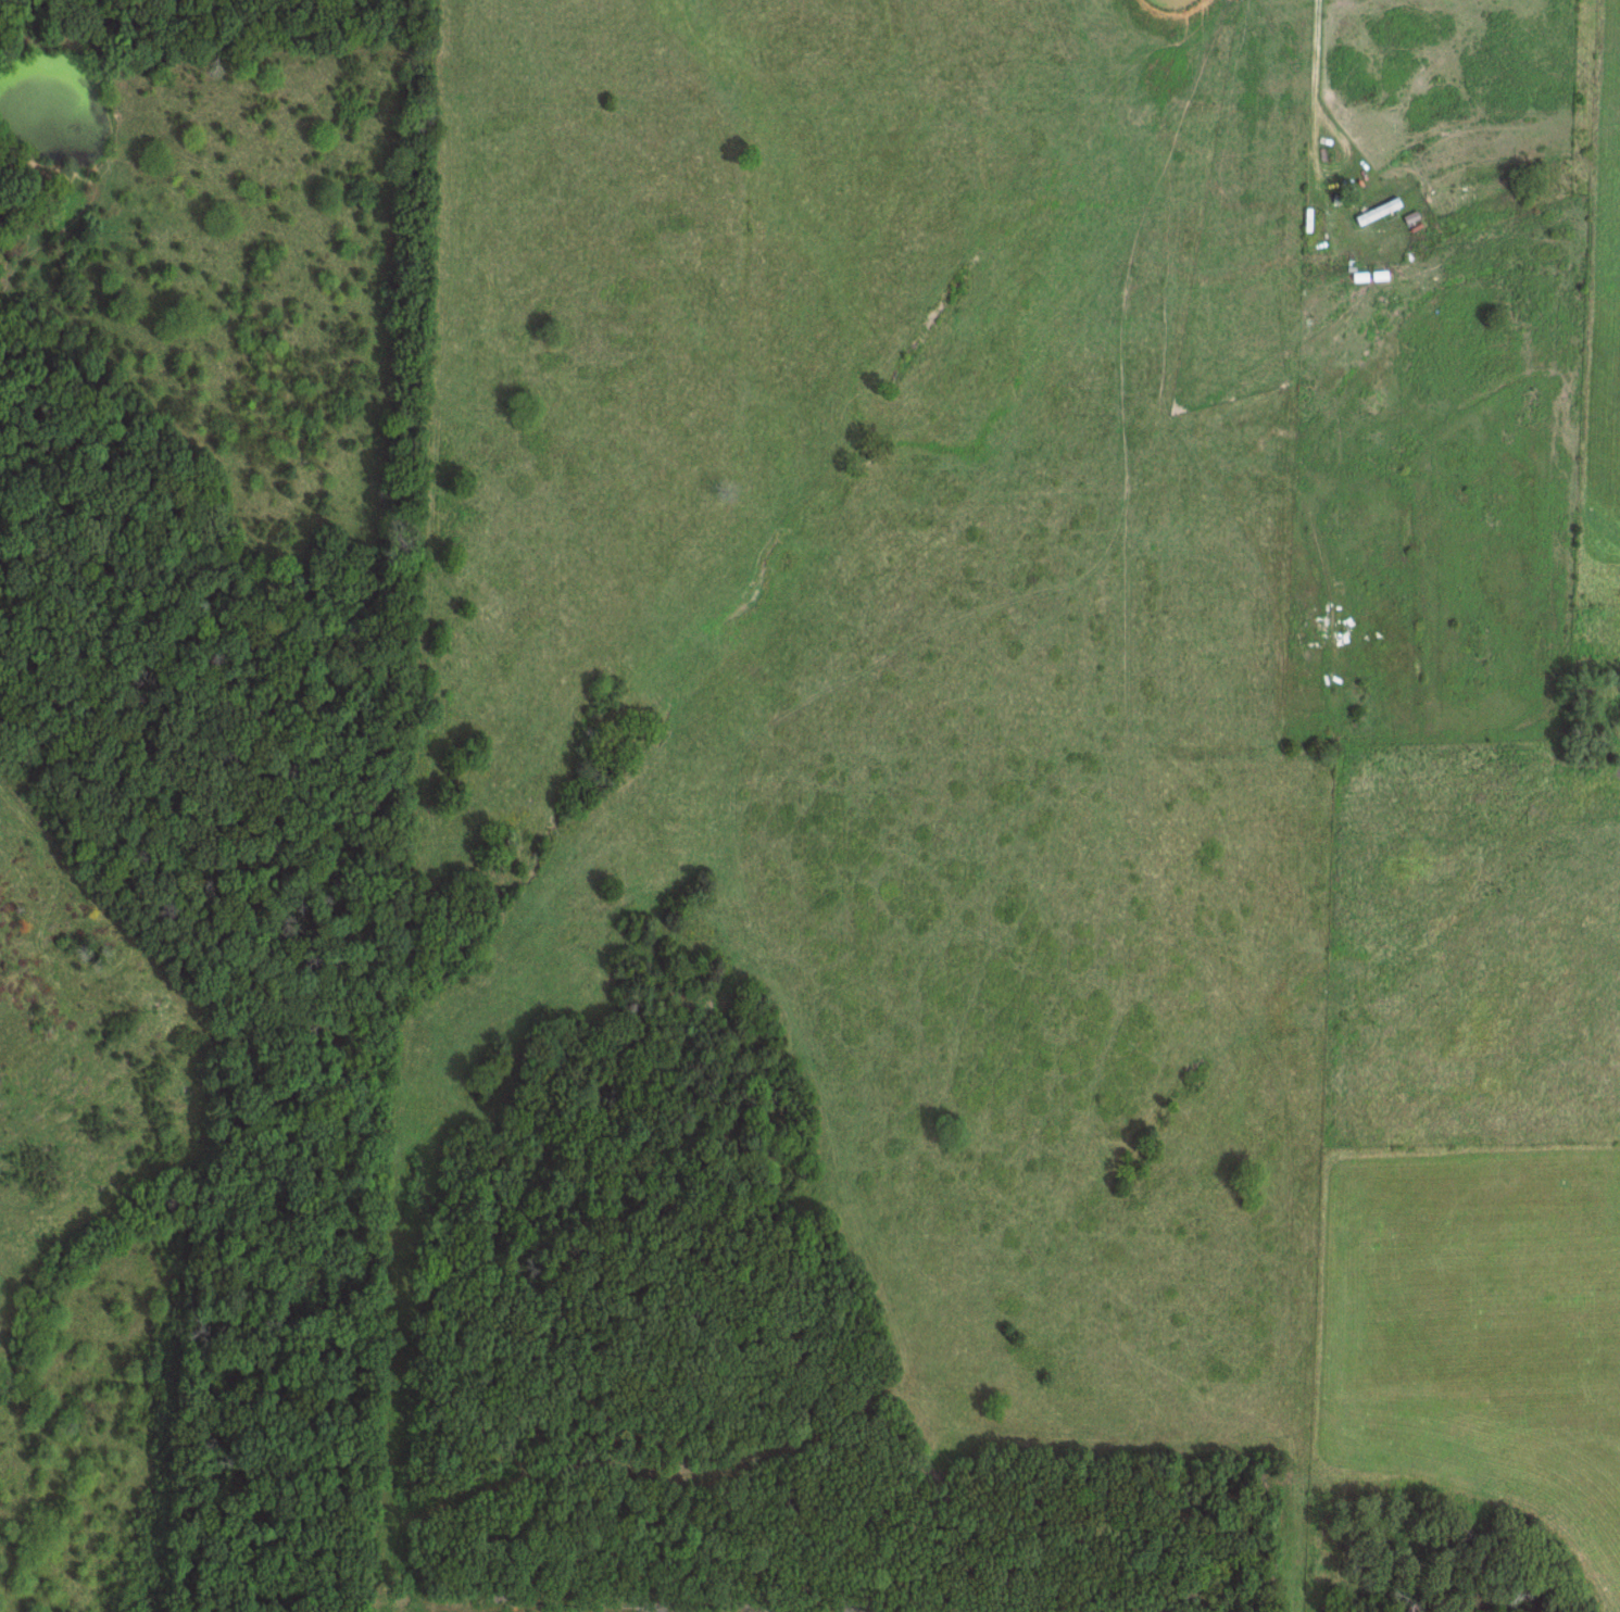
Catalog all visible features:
building: (1376, 212)

